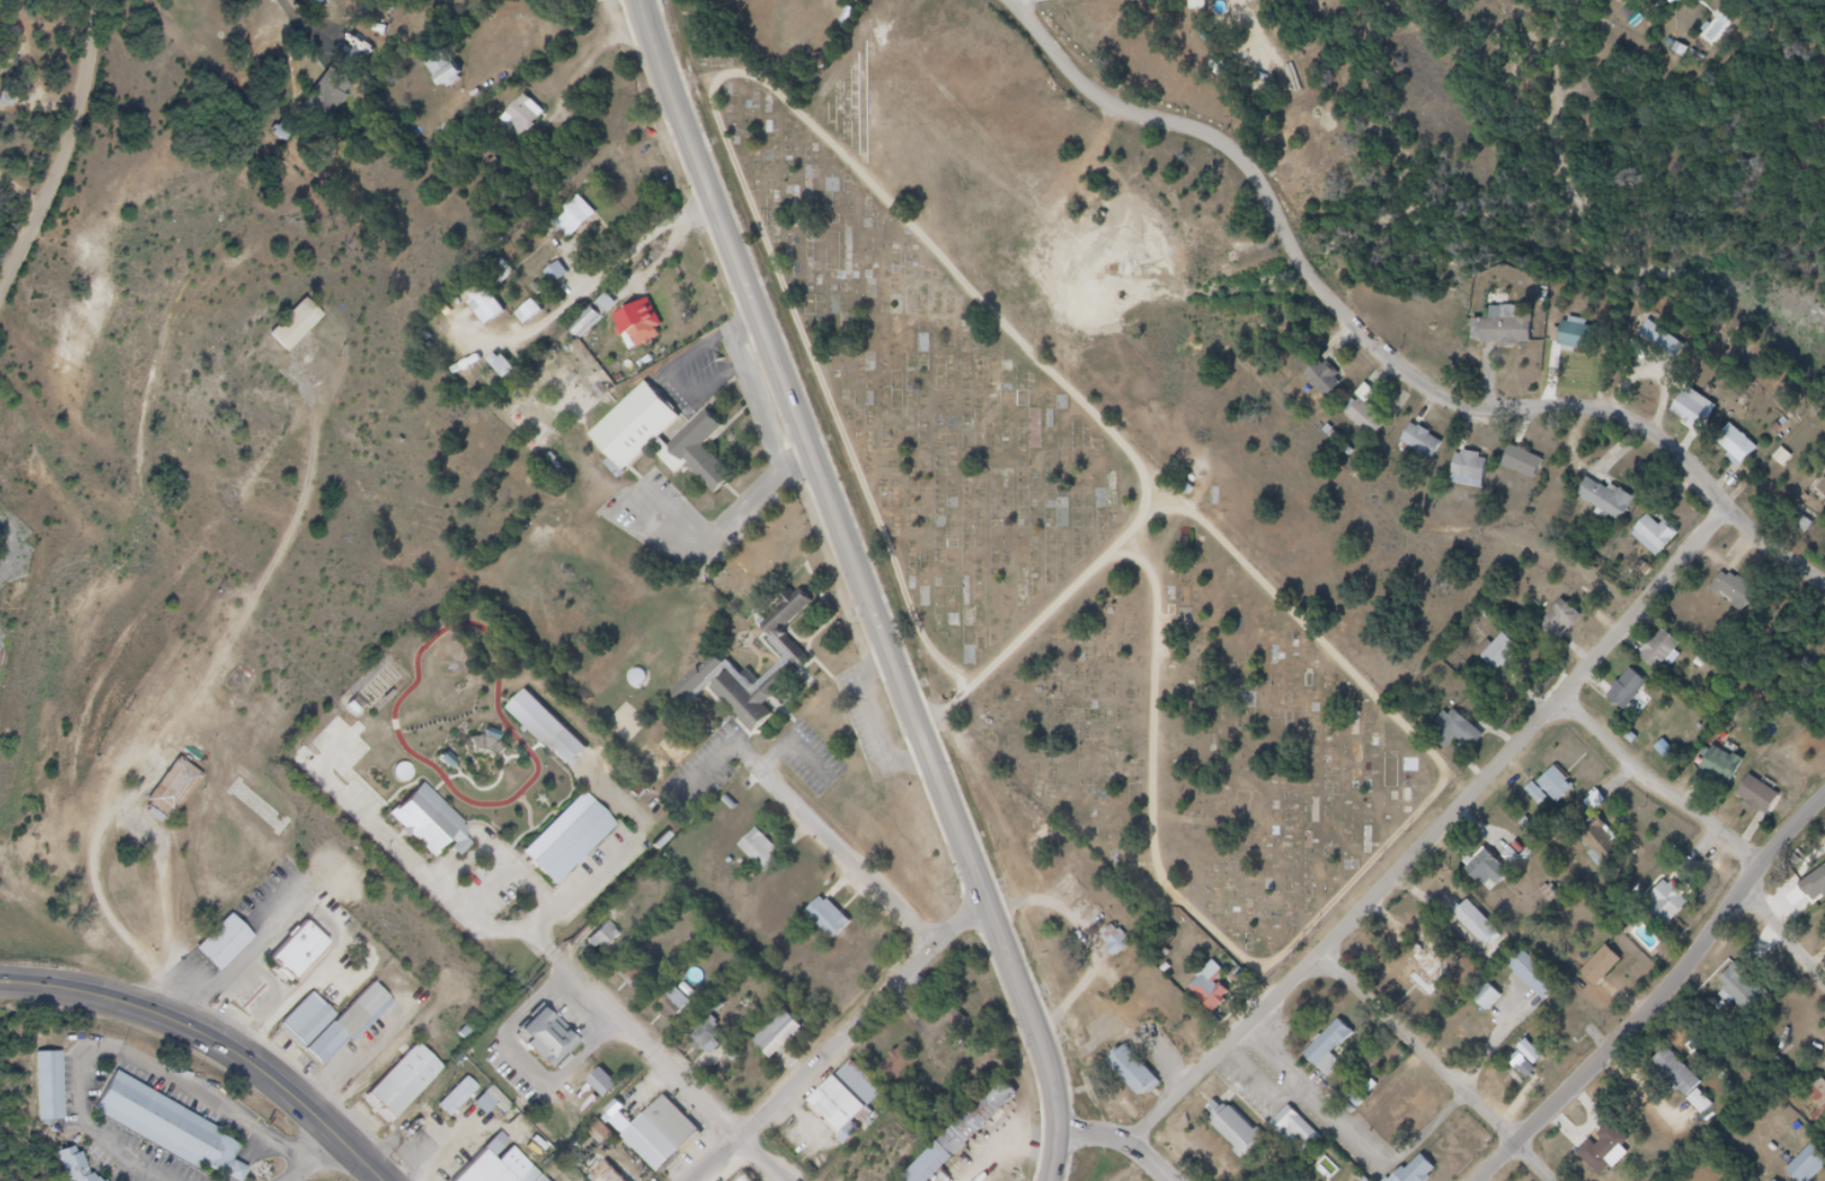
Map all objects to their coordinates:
road: (1039, 2)
building: (1689, 5)
road: (301, 20)
building: (444, 67)
building: (328, 100)
building: (534, 125)
road: (70, 167)
building: (573, 217)
building: (557, 273)
building: (487, 308)
building: (529, 312)
building: (587, 322)
building: (647, 326)
building: (1506, 329)
building: (305, 332)
building: (1576, 336)
building: (1661, 341)
building: (1516, 346)
road: (1380, 350)
building: (1586, 351)
building: (501, 366)
building: (1332, 388)
road: (828, 394)
road: (1088, 408)
building: (1705, 423)
building: (1375, 428)
building: (670, 442)
building: (1431, 448)
road: (814, 452)
building: (1746, 457)
building: (1530, 471)
building: (1476, 478)
building: (1612, 508)
building: (1800, 525)
building: (1663, 547)
building: (1744, 602)
road: (1053, 614)
building: (1569, 626)
building: (1502, 655)
building: (1668, 660)
building: (731, 663)
building: (1512, 663)
building: (1633, 698)
road: (197, 705)
road: (876, 722)
building: (555, 730)
building: (1467, 739)
road: (796, 746)
road: (721, 759)
parking lot: (813, 762)
parking lot: (707, 771)
building: (1731, 774)
building: (1568, 793)
building: (184, 798)
building: (1770, 803)
road: (1717, 825)
building: (441, 828)
road: (1445, 835)
building: (581, 842)
building: (1605, 848)
building: (768, 852)
road: (849, 859)
building: (1485, 869)
building: (1498, 879)
building: (1677, 909)
building: (837, 919)
building: (1485, 934)
building: (614, 941)
building: (216, 944)
building: (1125, 947)
building: (289, 950)
building: (1601, 967)
building: (1610, 976)
building: (644, 978)
building: (1544, 982)
building: (1431, 983)
road: (94, 988)
building: (1218, 992)
building: (1750, 995)
building: (1488, 998)
road: (1664, 1000)
building: (674, 1003)
building: (688, 1007)
building: (301, 1019)
building: (943, 1021)
building: (347, 1025)
building: (1561, 1026)
building: (785, 1034)
road: (1042, 1038)
road: (840, 1039)
building: (555, 1042)
building: (714, 1042)
road: (359, 1051)
road: (124, 1052)
building: (1337, 1055)
building: (906, 1064)
road: (1439, 1068)
road: (676, 1073)
building: (1140, 1079)
building: (49, 1086)
building: (415, 1087)
building: (613, 1090)
building: (1692, 1090)
road: (293, 1091)
building: (457, 1099)
building: (1820, 1099)
parking lot: (1306, 1101)
building: (856, 1102)
building: (166, 1126)
building: (1298, 1131)
building: (962, 1134)
building: (976, 1137)
road: (1098, 1137)
building: (1244, 1138)
building: (672, 1139)
road: (325, 1149)
building: (1613, 1158)
road: (1149, 1162)
building: (69, 1165)
building: (1815, 1170)
road: (299, 1171)
building: (495, 1173)
building: (606, 1174)
building: (1431, 1175)
building: (624, 1179)
building: (1411, 1179)
building: (1365, 1180)

